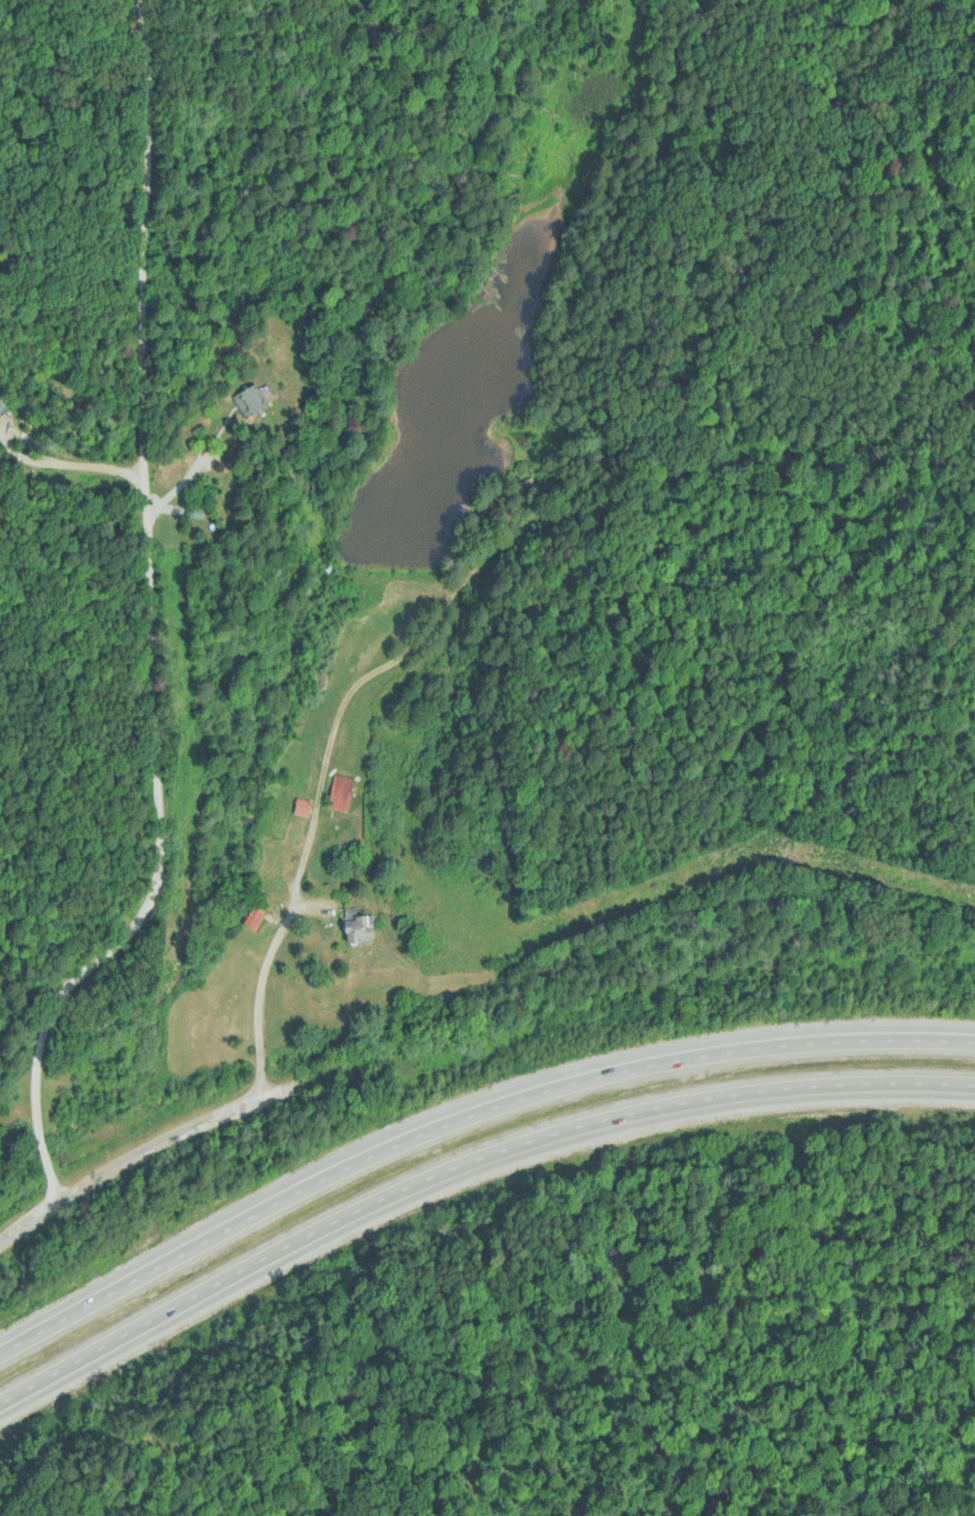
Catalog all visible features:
road: (80, 336)
building: (250, 402)
building: (0, 406)
road: (156, 654)
building: (338, 793)
building: (301, 808)
road: (294, 875)
building: (256, 917)
building: (354, 927)
road: (464, 1118)
road: (189, 1126)
road: (463, 1162)

